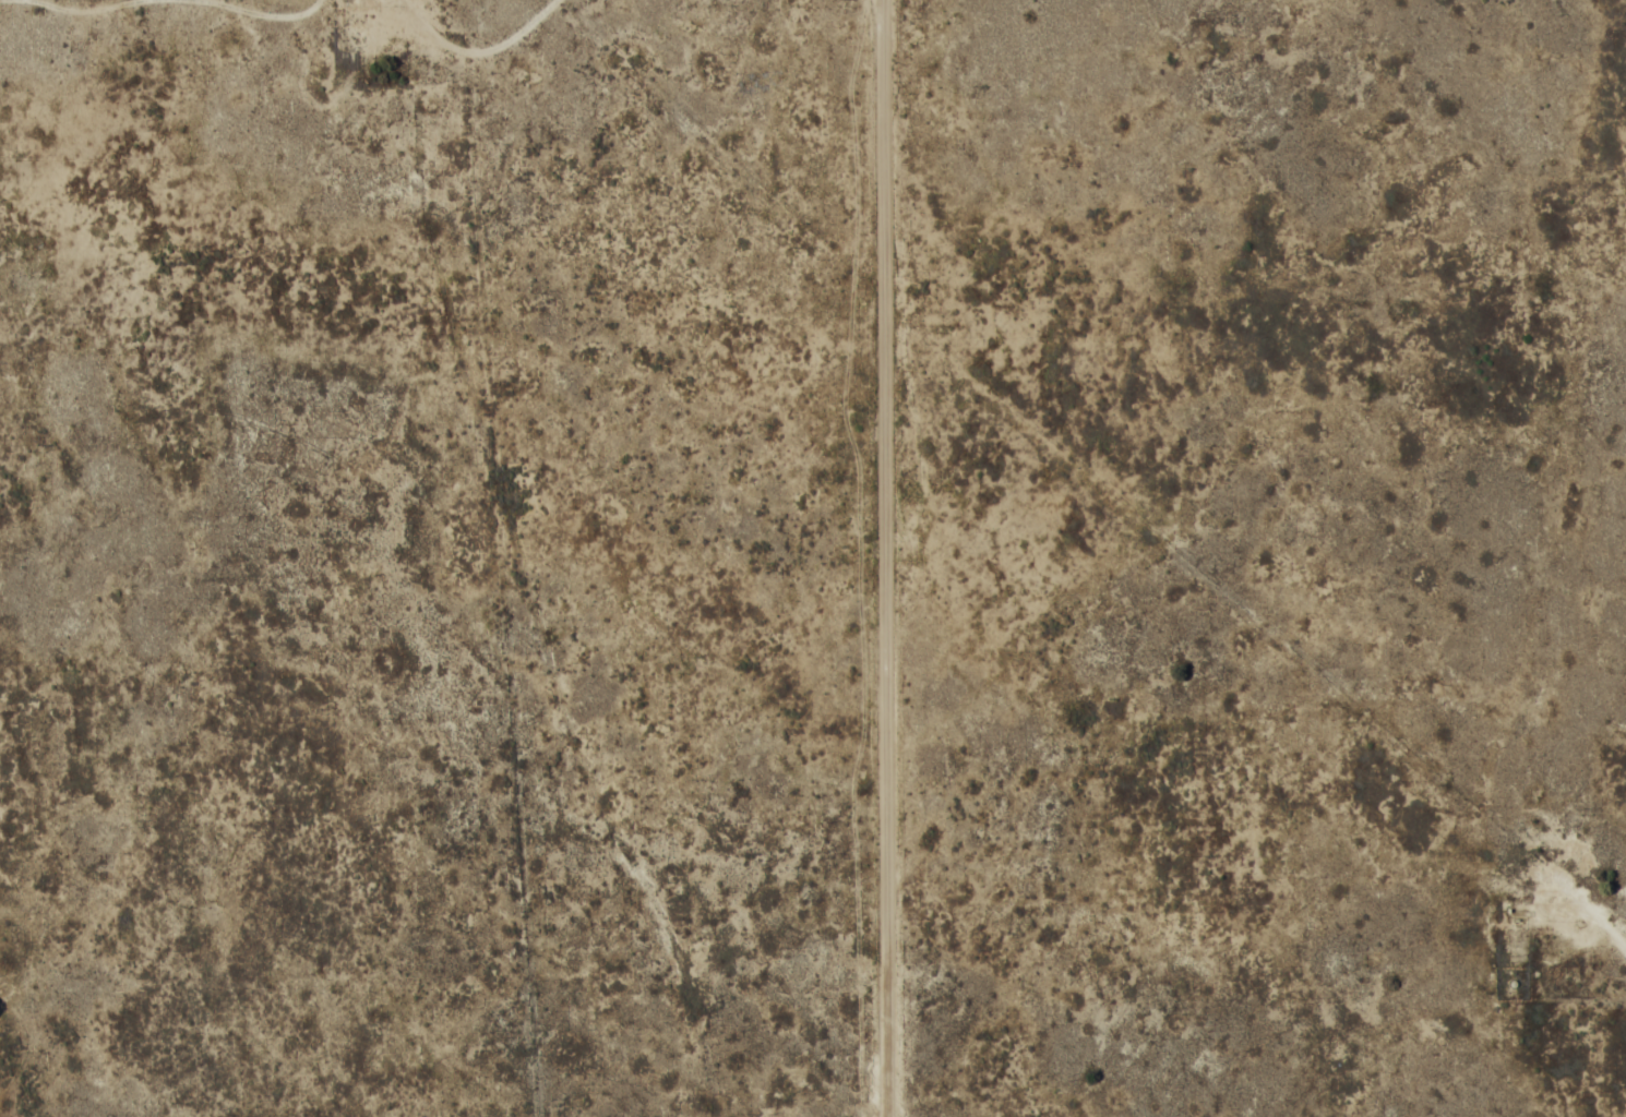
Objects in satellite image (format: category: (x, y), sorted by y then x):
road: (889, 557)

